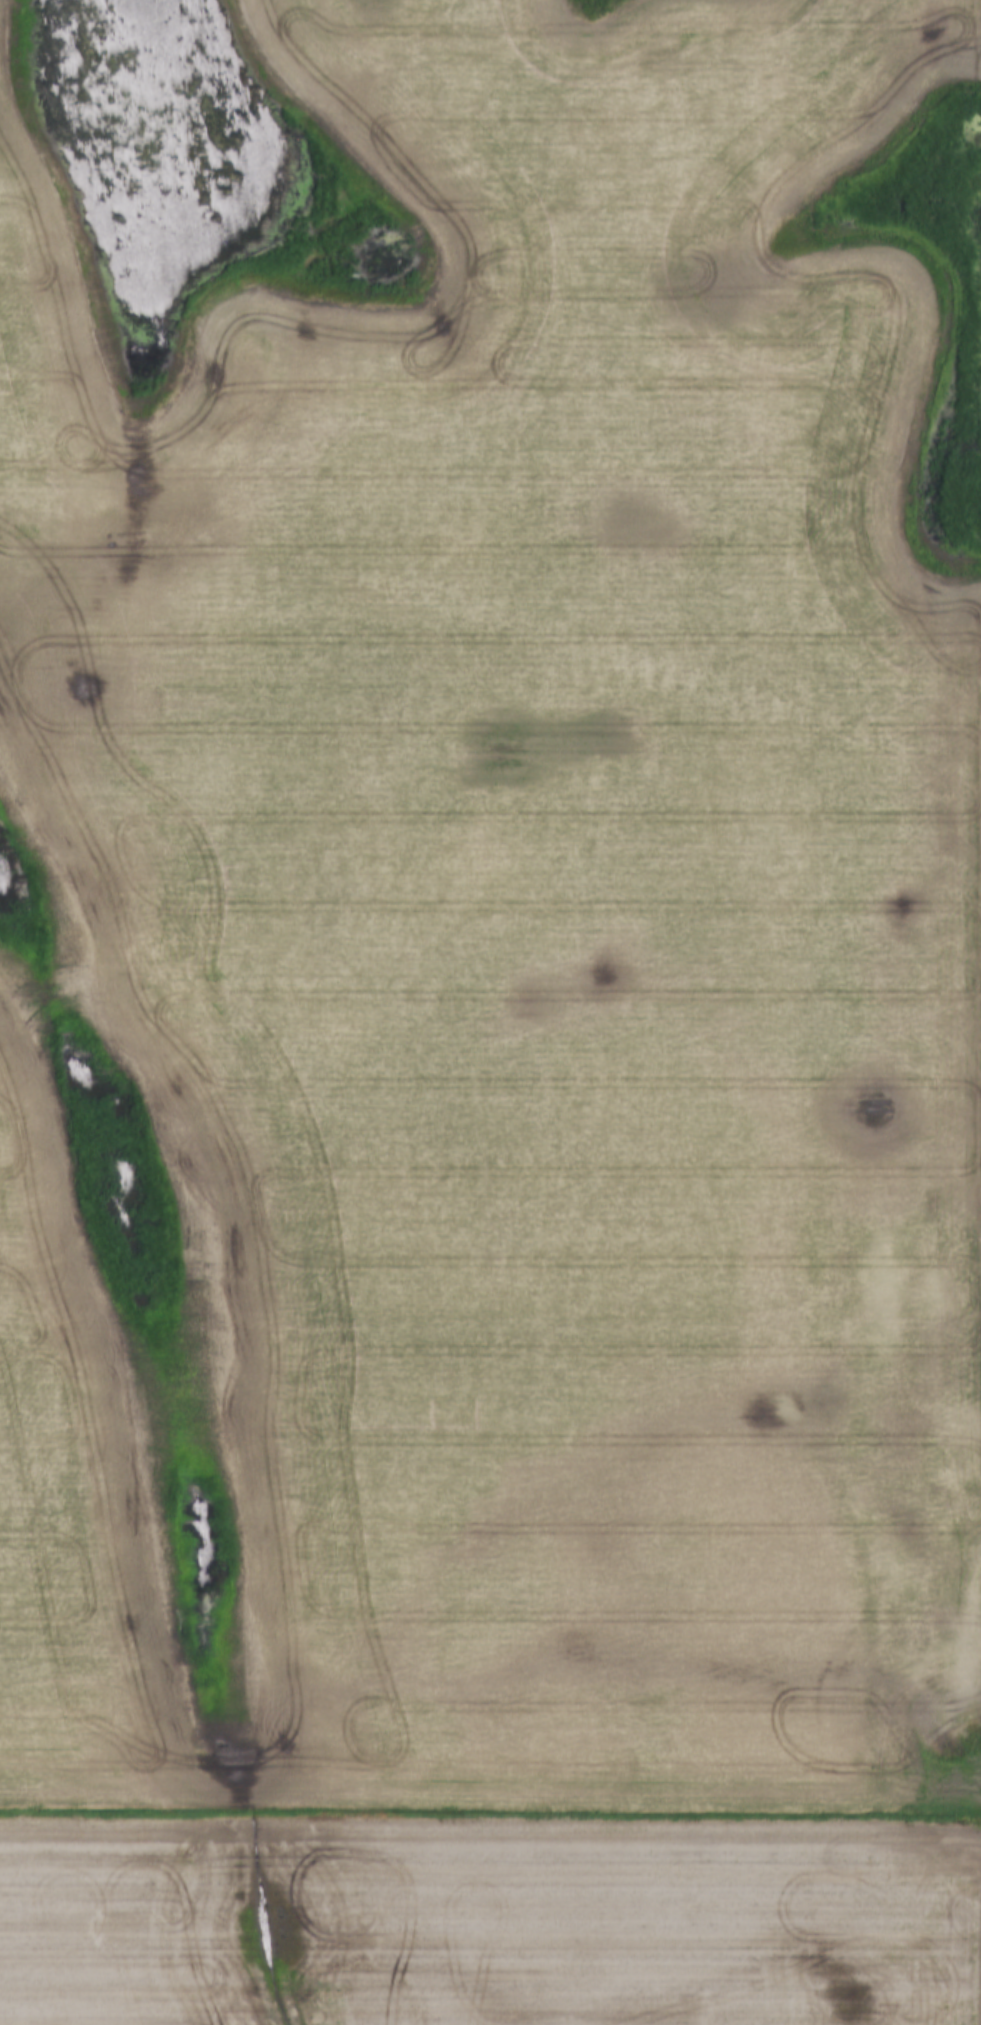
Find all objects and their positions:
road: (913, 1376)
building: (864, 1497)

